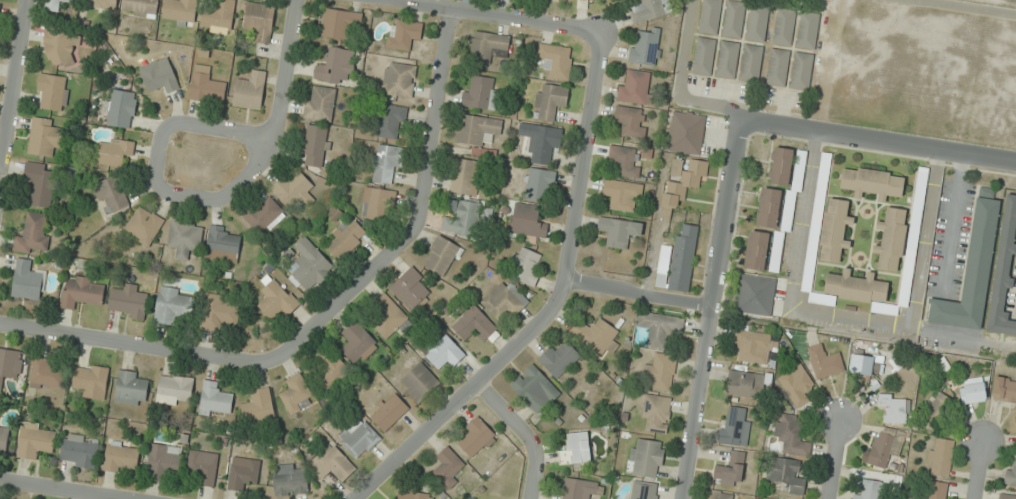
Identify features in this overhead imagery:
building: (56, 4)
building: (101, 4)
building: (141, 7)
building: (651, 10)
building: (180, 12)
road: (493, 16)
building: (709, 16)
building: (218, 17)
building: (734, 19)
building: (259, 21)
building: (338, 23)
building: (757, 23)
building: (784, 26)
building: (808, 30)
building: (403, 34)
building: (64, 46)
building: (487, 47)
building: (646, 49)
building: (704, 56)
building: (727, 59)
building: (556, 60)
building: (751, 63)
building: (336, 65)
building: (778, 67)
building: (801, 71)
road: (286, 74)
building: (159, 76)
building: (399, 79)
building: (635, 86)
building: (208, 87)
road: (13, 88)
building: (250, 90)
building: (53, 92)
building: (480, 93)
building: (549, 101)
building: (320, 103)
building: (120, 108)
building: (392, 121)
building: (631, 121)
road: (434, 122)
road: (191, 125)
building: (477, 129)
building: (686, 132)
building: (44, 137)
road: (877, 141)
building: (541, 143)
building: (316, 146)
building: (114, 151)
building: (625, 160)
building: (385, 164)
building: (781, 166)
building: (824, 175)
building: (465, 177)
building: (681, 181)
building: (40, 182)
building: (872, 183)
building: (539, 184)
building: (294, 190)
building: (111, 194)
building: (623, 195)
building: (378, 204)
building: (768, 207)
building: (265, 215)
building: (461, 218)
building: (527, 220)
building: (143, 226)
building: (834, 228)
building: (619, 231)
building: (33, 235)
building: (185, 238)
building: (345, 238)
building: (891, 239)
building: (222, 244)
building: (757, 250)
building: (777, 252)
building: (442, 255)
building: (678, 260)
building: (810, 260)
building: (310, 266)
building: (528, 266)
building: (972, 270)
building: (1004, 271)
building: (27, 280)
building: (411, 288)
building: (82, 292)
road: (637, 294)
building: (756, 294)
building: (277, 300)
building: (505, 300)
building: (129, 301)
building: (172, 305)
road: (555, 305)
road: (707, 308)
building: (220, 312)
building: (387, 316)
building: (473, 323)
building: (660, 328)
building: (596, 335)
building: (357, 342)
building: (752, 345)
building: (442, 352)
building: (559, 359)
road: (230, 360)
building: (824, 361)
building: (865, 365)
building: (9, 366)
building: (944, 367)
building: (329, 368)
building: (661, 372)
building: (46, 374)
building: (91, 380)
building: (419, 382)
building: (745, 384)
building: (798, 384)
building: (130, 389)
building: (535, 389)
building: (1004, 389)
building: (175, 390)
building: (972, 390)
building: (297, 394)
building: (215, 399)
building: (259, 405)
building: (896, 408)
building: (936, 410)
building: (388, 411)
building: (656, 412)
building: (734, 425)
road: (526, 433)
building: (791, 434)
building: (360, 438)
building: (476, 438)
building: (4, 439)
building: (35, 440)
building: (886, 446)
building: (575, 449)
building: (79, 450)
building: (940, 456)
building: (121, 457)
building: (646, 458)
road: (833, 459)
building: (163, 461)
building: (333, 464)
building: (449, 466)
building: (203, 467)
road: (976, 470)
building: (1011, 473)
building: (243, 474)
building: (728, 474)
building: (786, 474)
building: (290, 479)
road: (61, 489)
building: (579, 489)
building: (868, 489)
building: (642, 490)
building: (935, 490)
building: (413, 495)
building: (721, 495)
building: (1008, 496)

